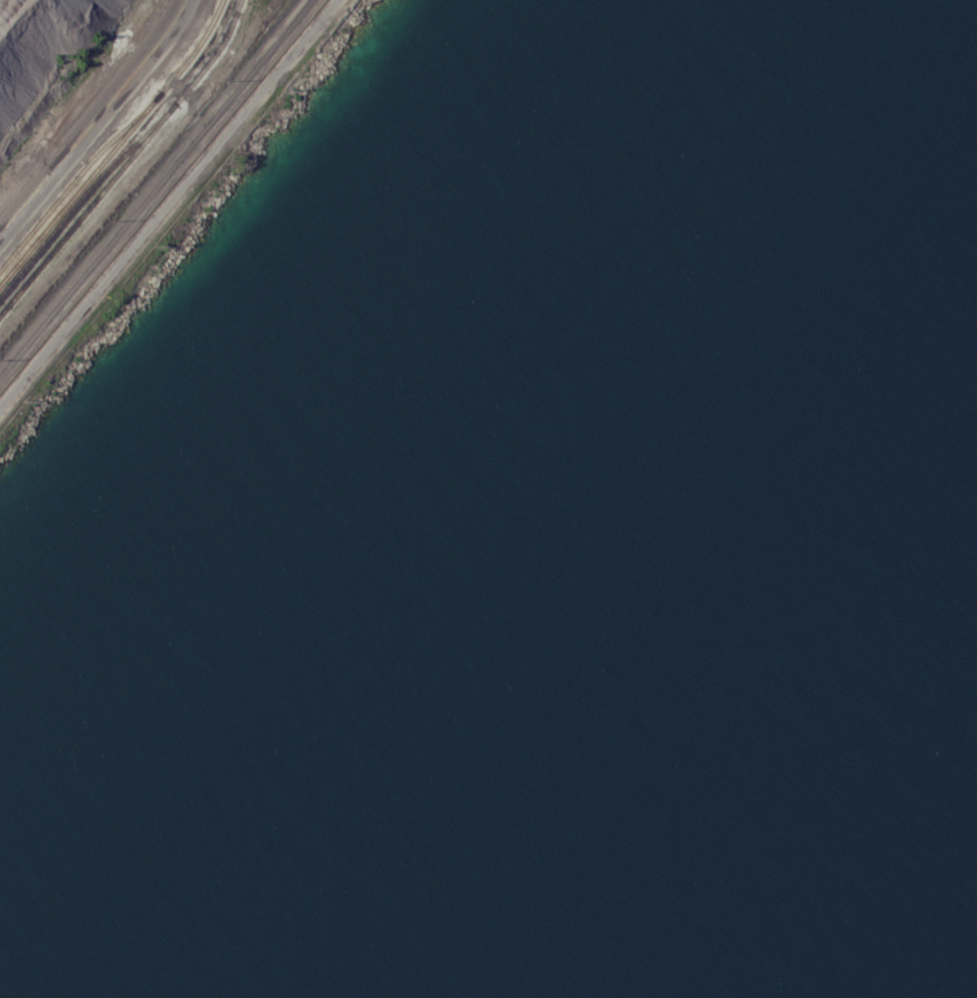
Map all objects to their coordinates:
road: (35, 43)
railway: (173, 104)
road: (99, 123)
railway: (113, 135)
road: (19, 176)
railway: (79, 187)
railway: (83, 197)
road: (164, 198)
railway: (46, 257)

